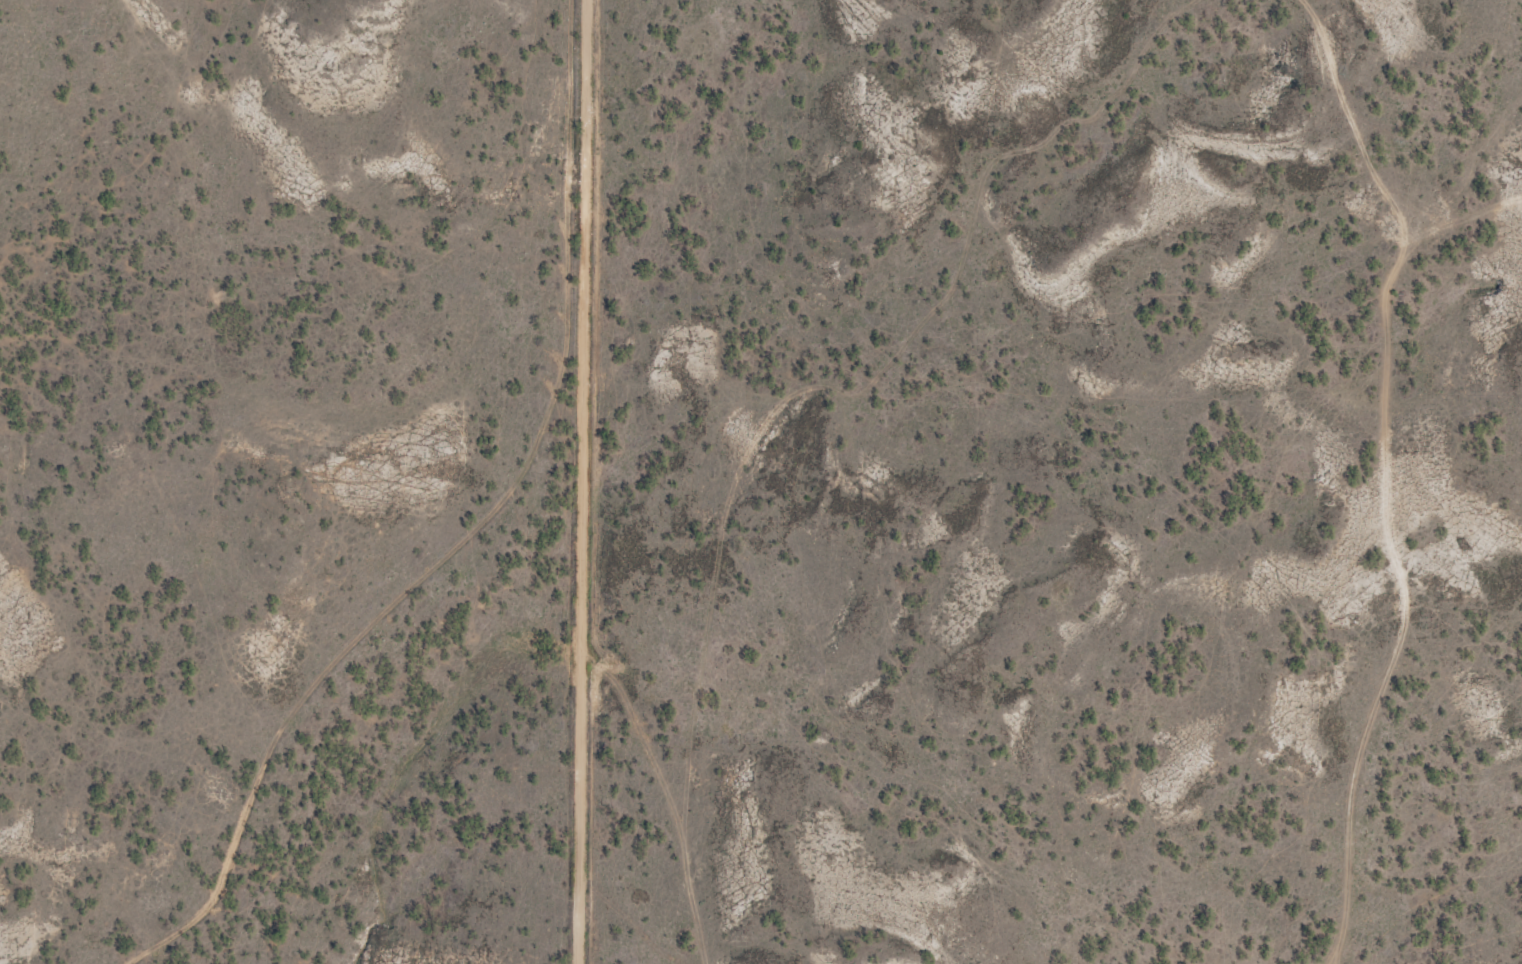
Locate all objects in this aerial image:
road: (589, 250)
road: (342, 691)
road: (583, 731)

